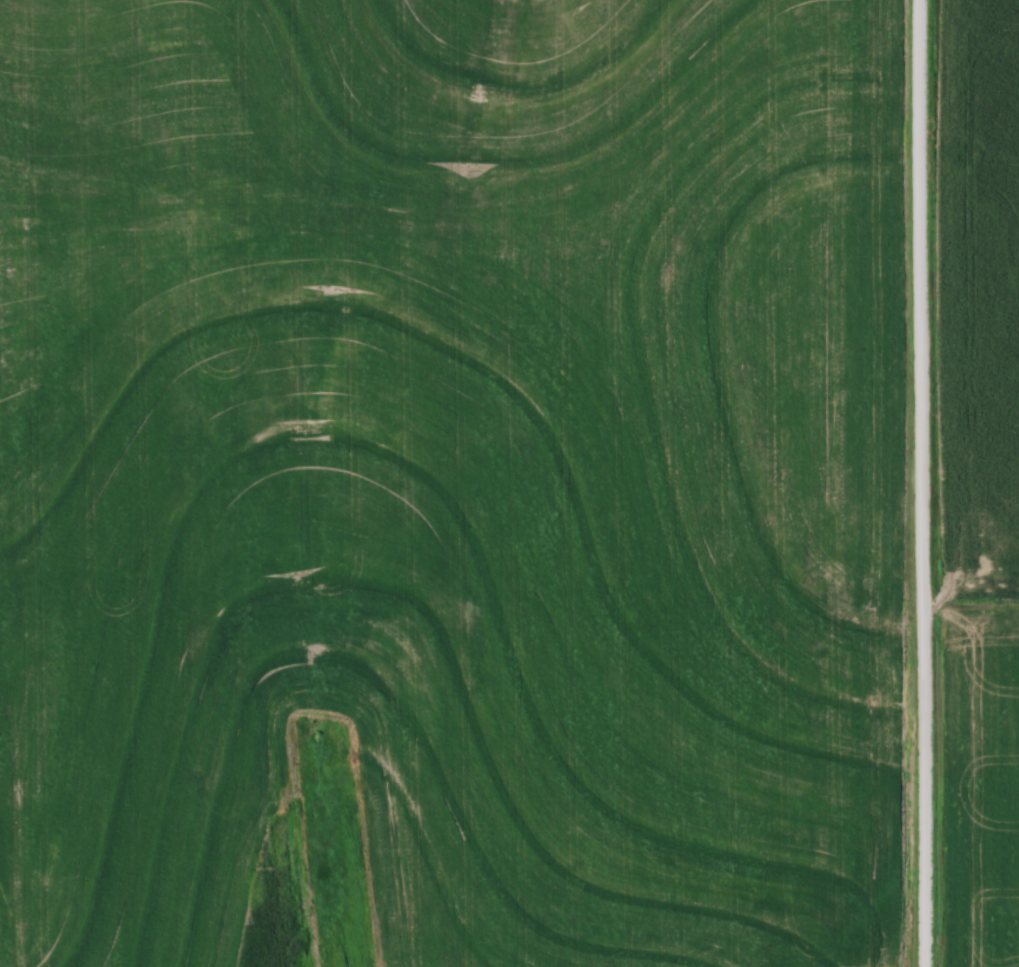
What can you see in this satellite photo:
road: (928, 483)

